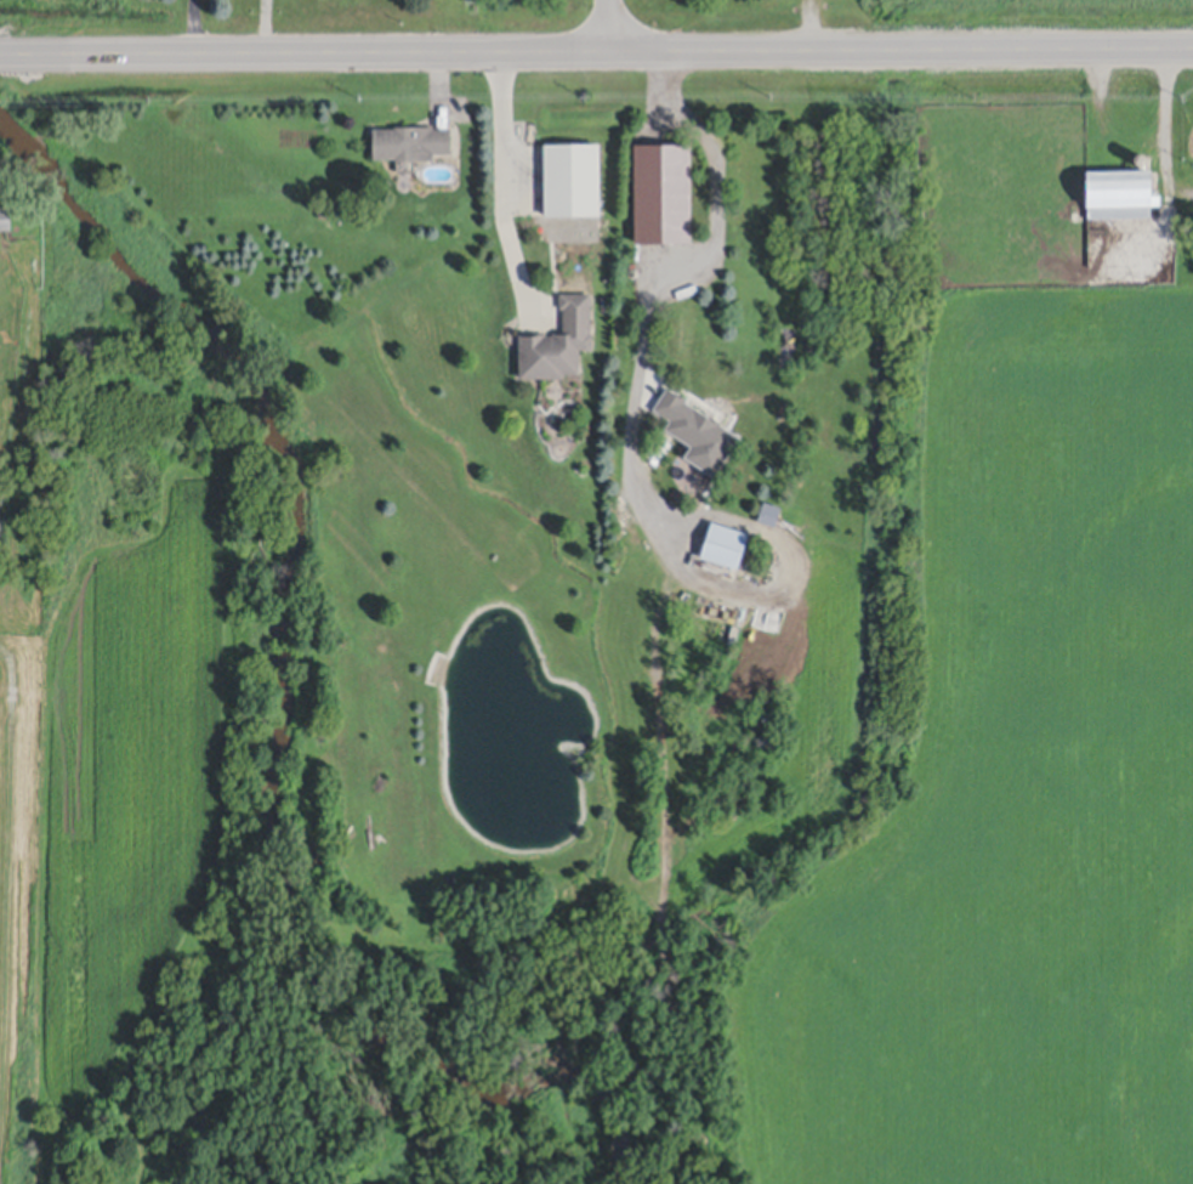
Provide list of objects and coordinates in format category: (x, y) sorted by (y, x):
road: (608, 23)
road: (206, 26)
road: (596, 47)
road: (1168, 114)
building: (409, 141)
building: (1140, 157)
road: (515, 174)
building: (570, 176)
building: (1119, 189)
building: (325, 213)
building: (356, 214)
building: (5, 216)
road: (672, 271)
building: (557, 340)
building: (697, 429)
building: (723, 543)
building: (723, 611)
crop: (1017, 799)

